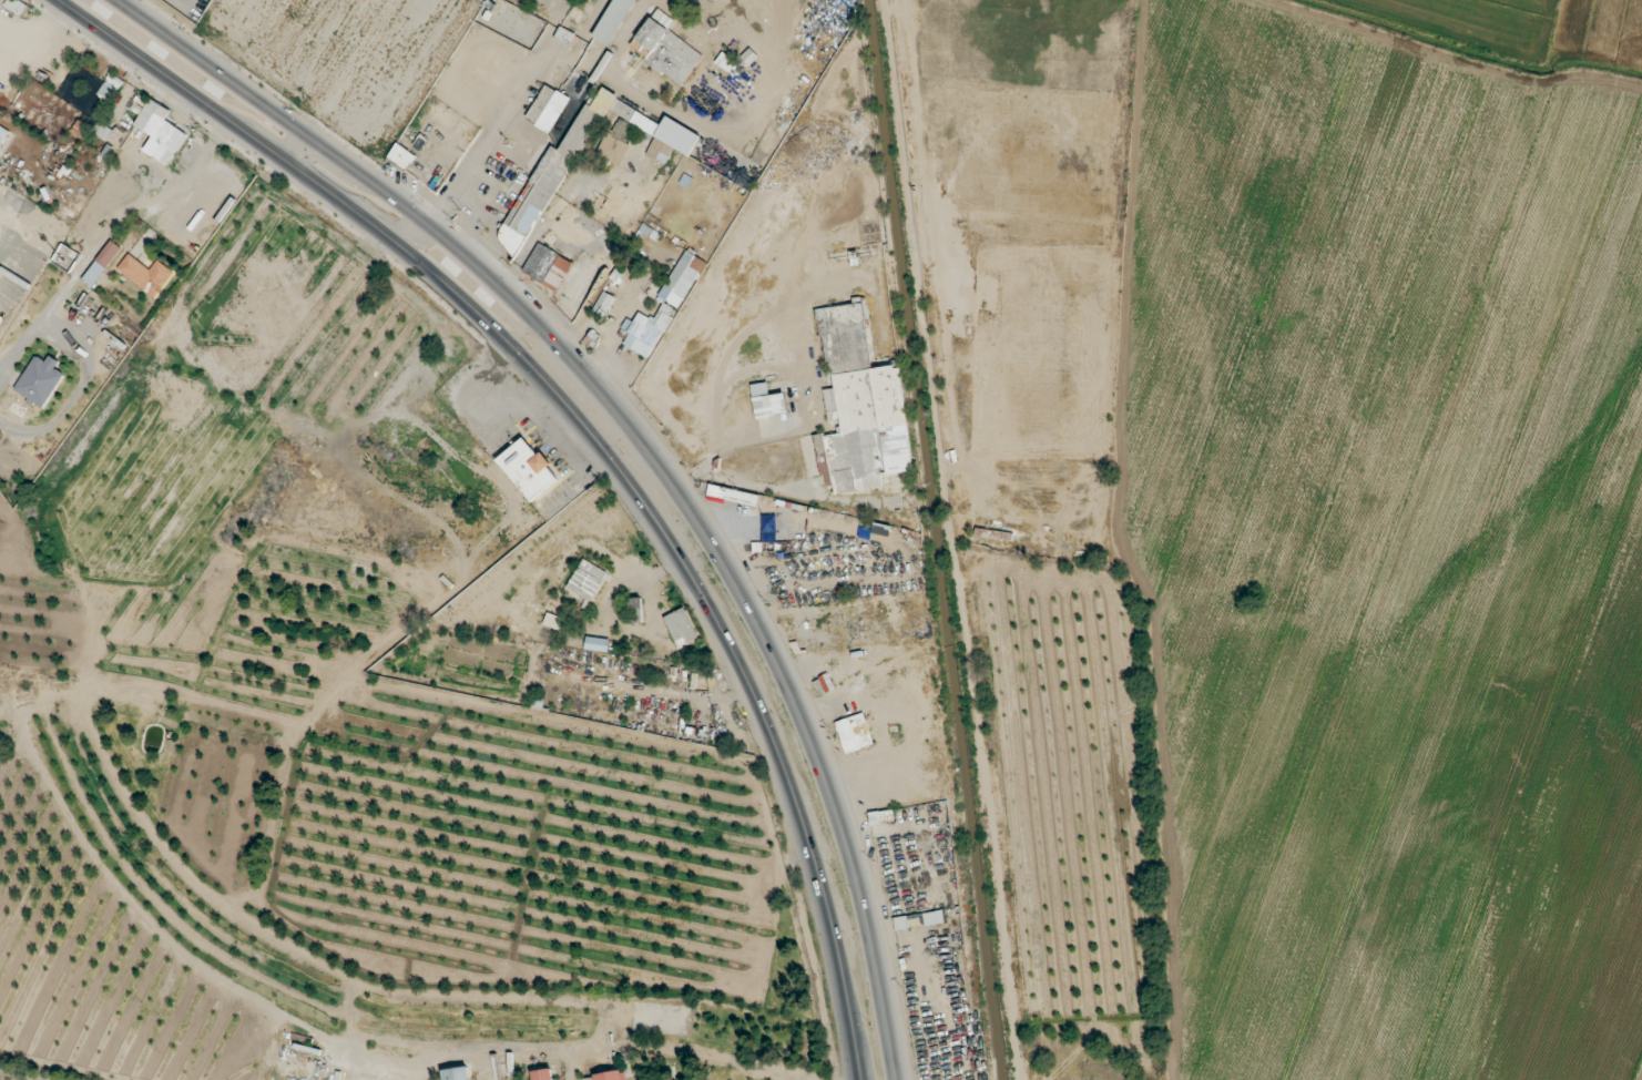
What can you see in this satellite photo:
crop: (1387, 560)

